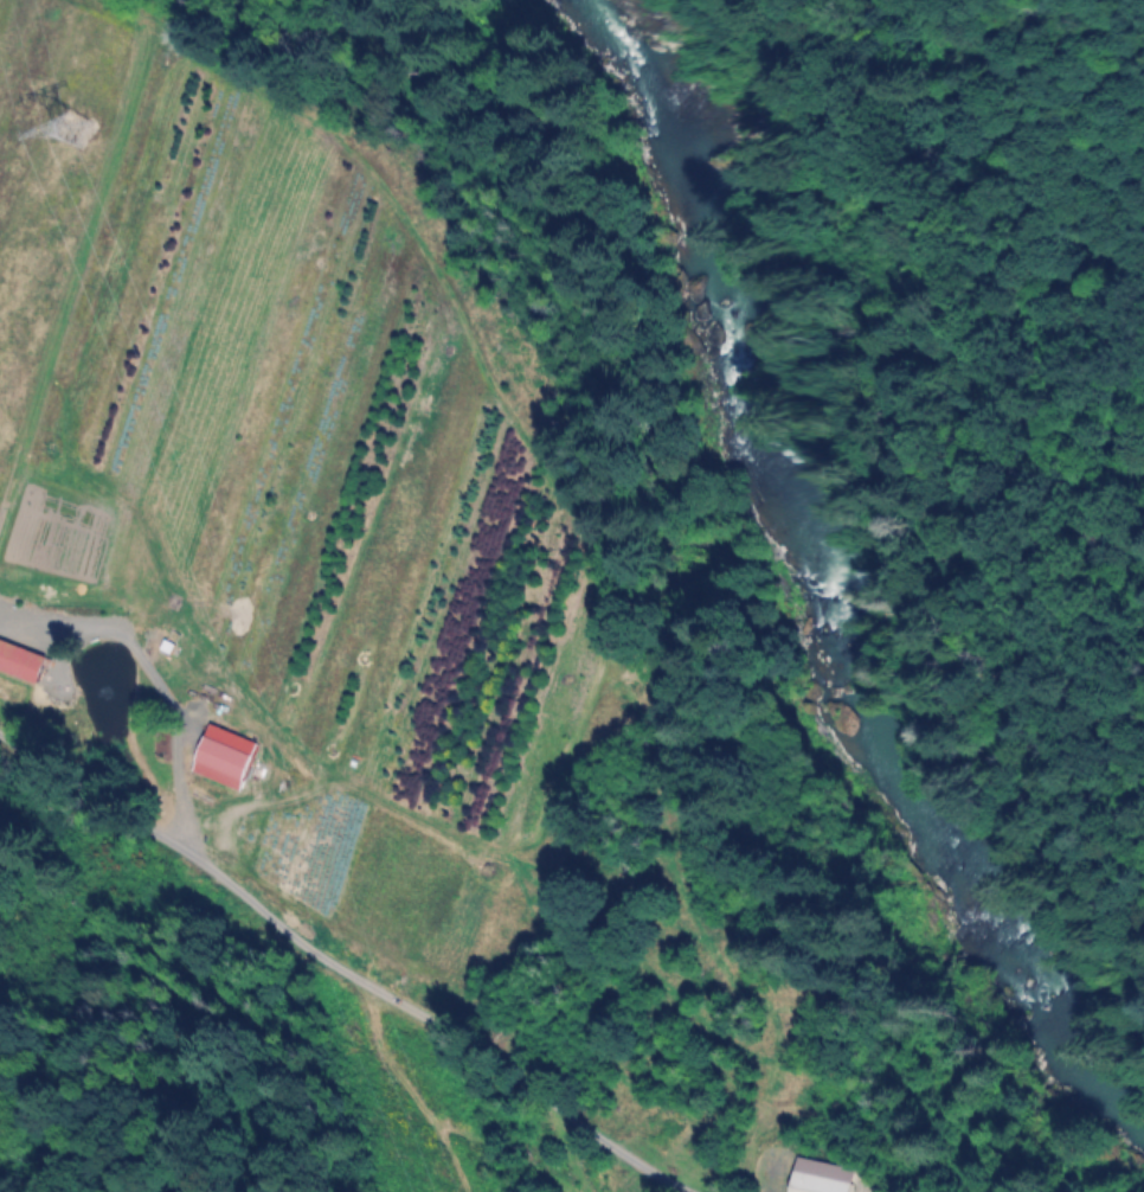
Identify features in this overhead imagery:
power tower: (71, 136)
river: (785, 600)
building: (153, 646)
building: (21, 661)
road: (155, 674)
building: (227, 762)
road: (338, 960)
building: (823, 1178)

